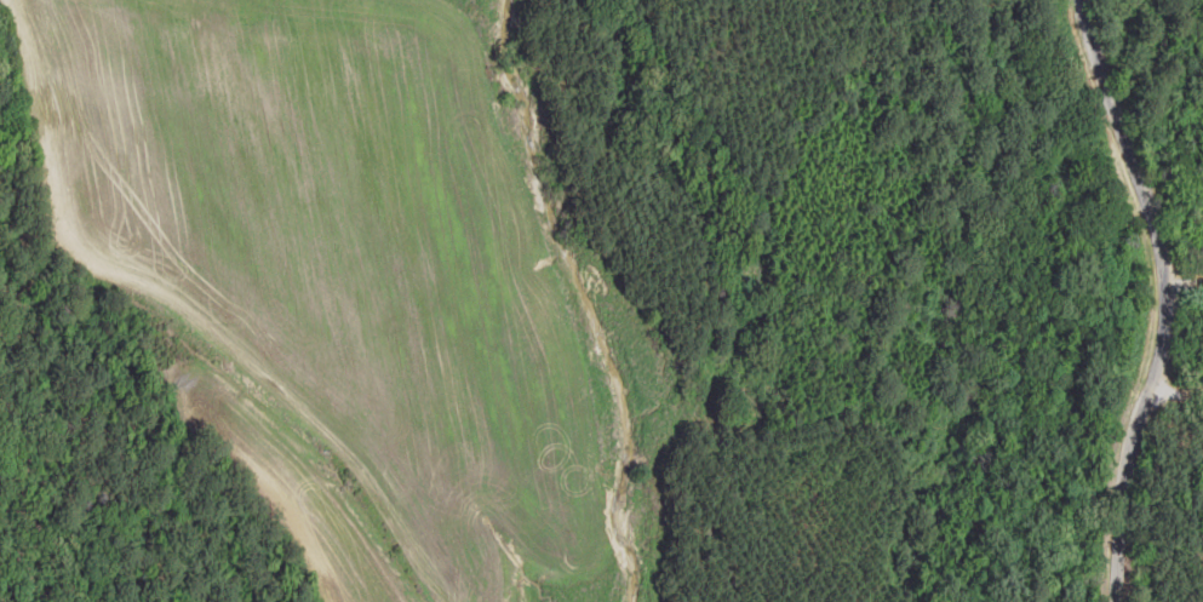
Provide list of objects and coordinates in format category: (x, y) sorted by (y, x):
road: (1186, 300)
road: (1197, 363)

